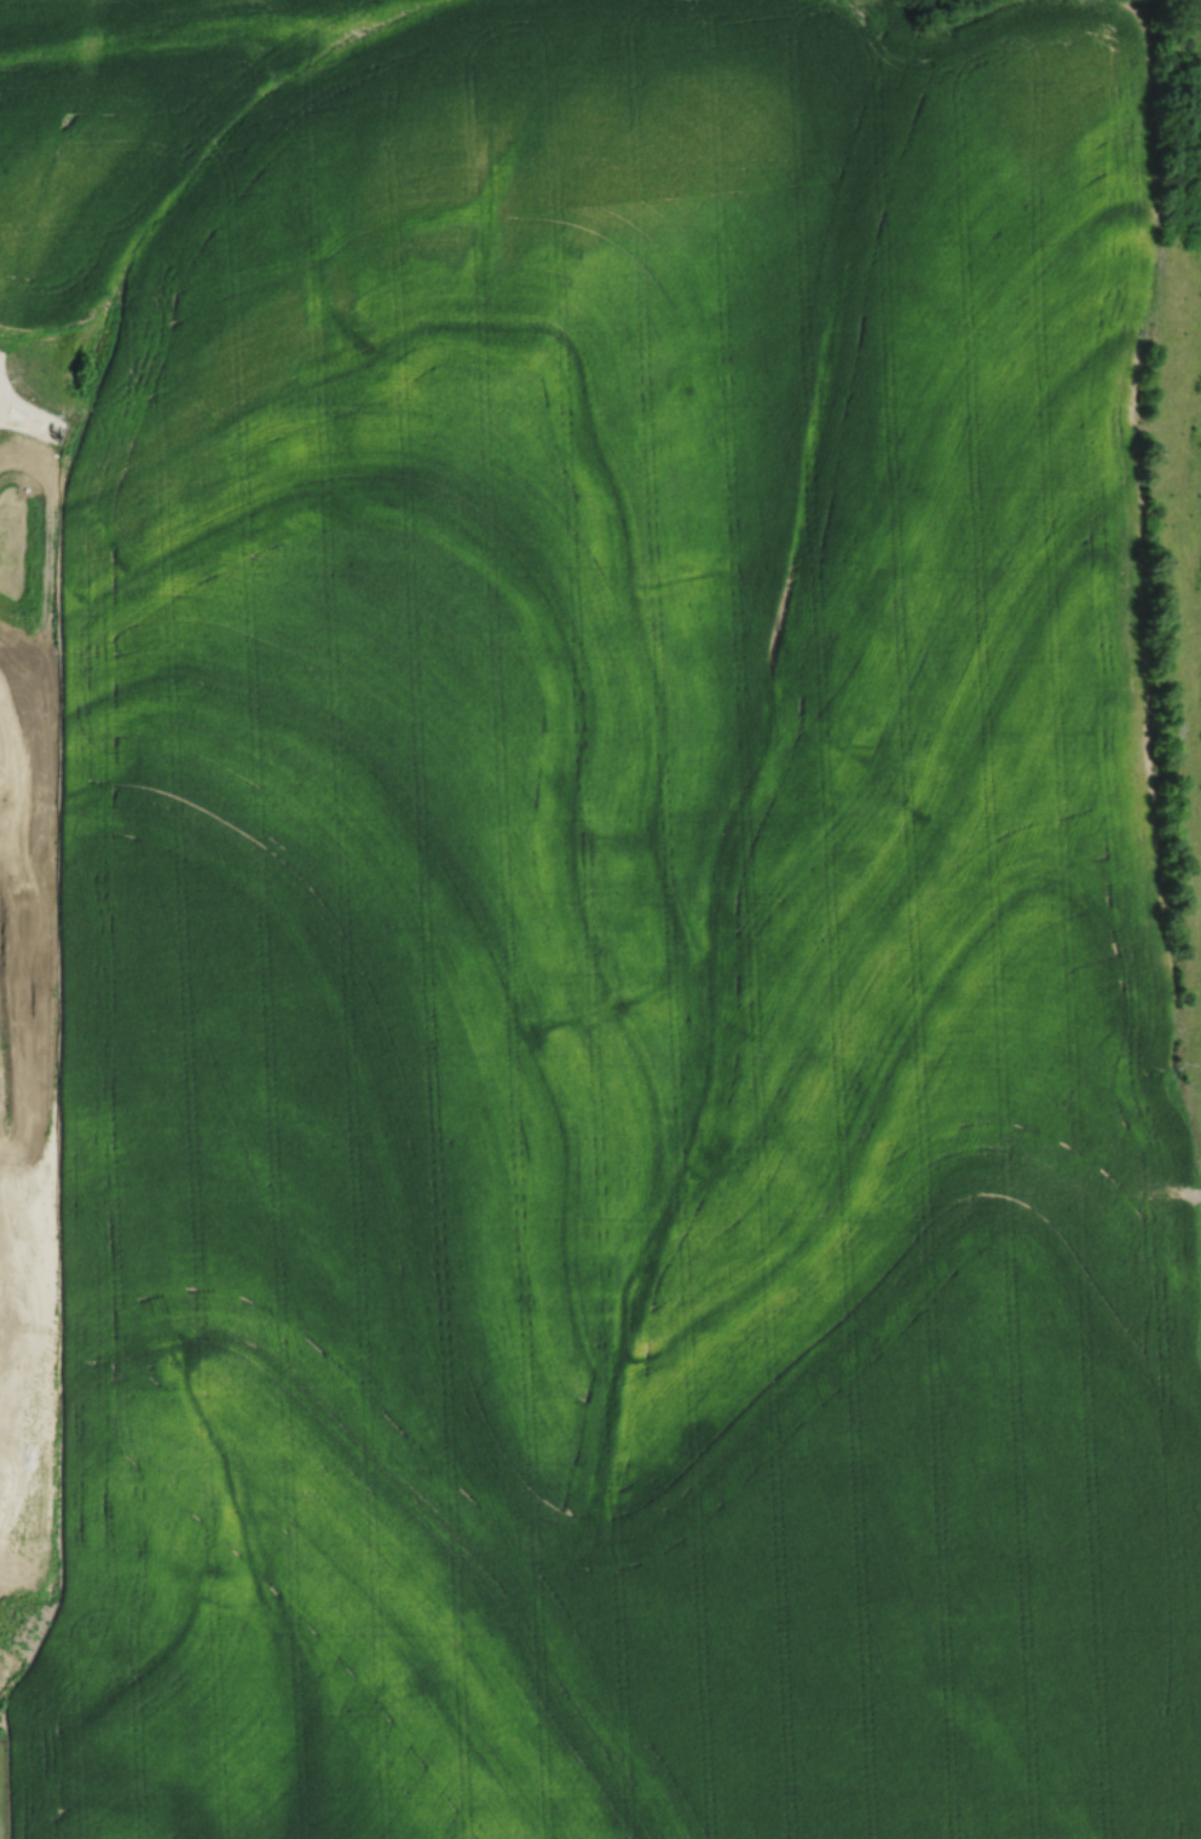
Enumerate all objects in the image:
road: (2, 392)
road: (30, 410)
road: (29, 427)
road: (1196, 1194)

